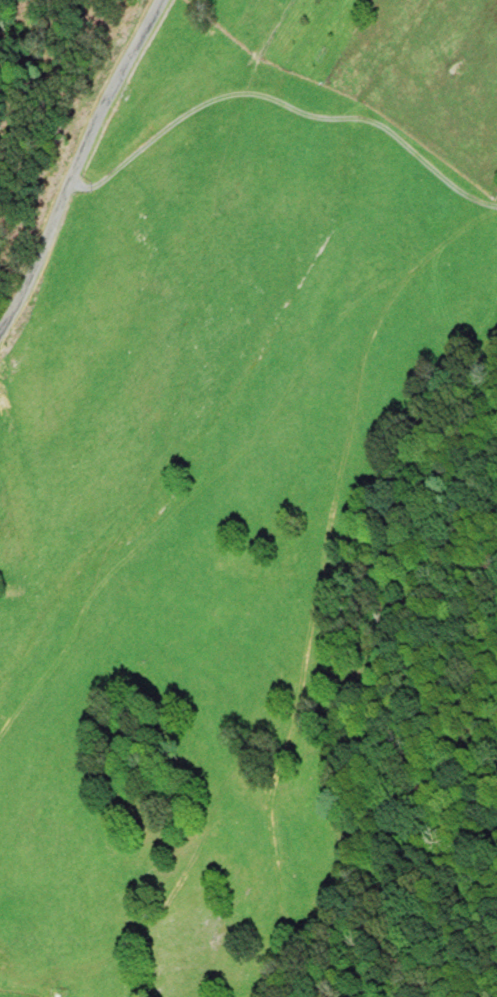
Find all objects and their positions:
road: (282, 100)
road: (76, 163)

